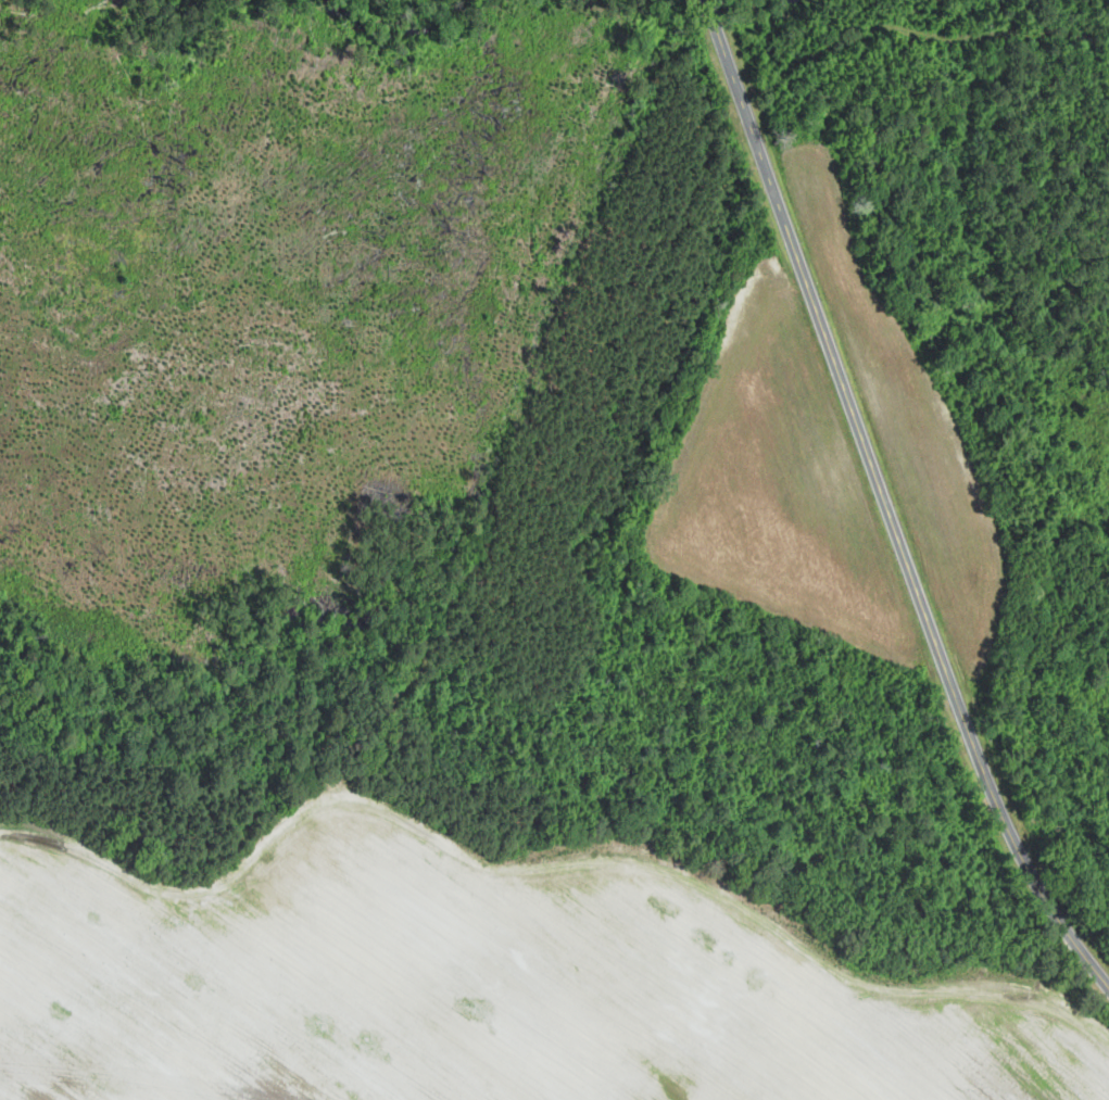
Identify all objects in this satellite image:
road: (885, 504)

